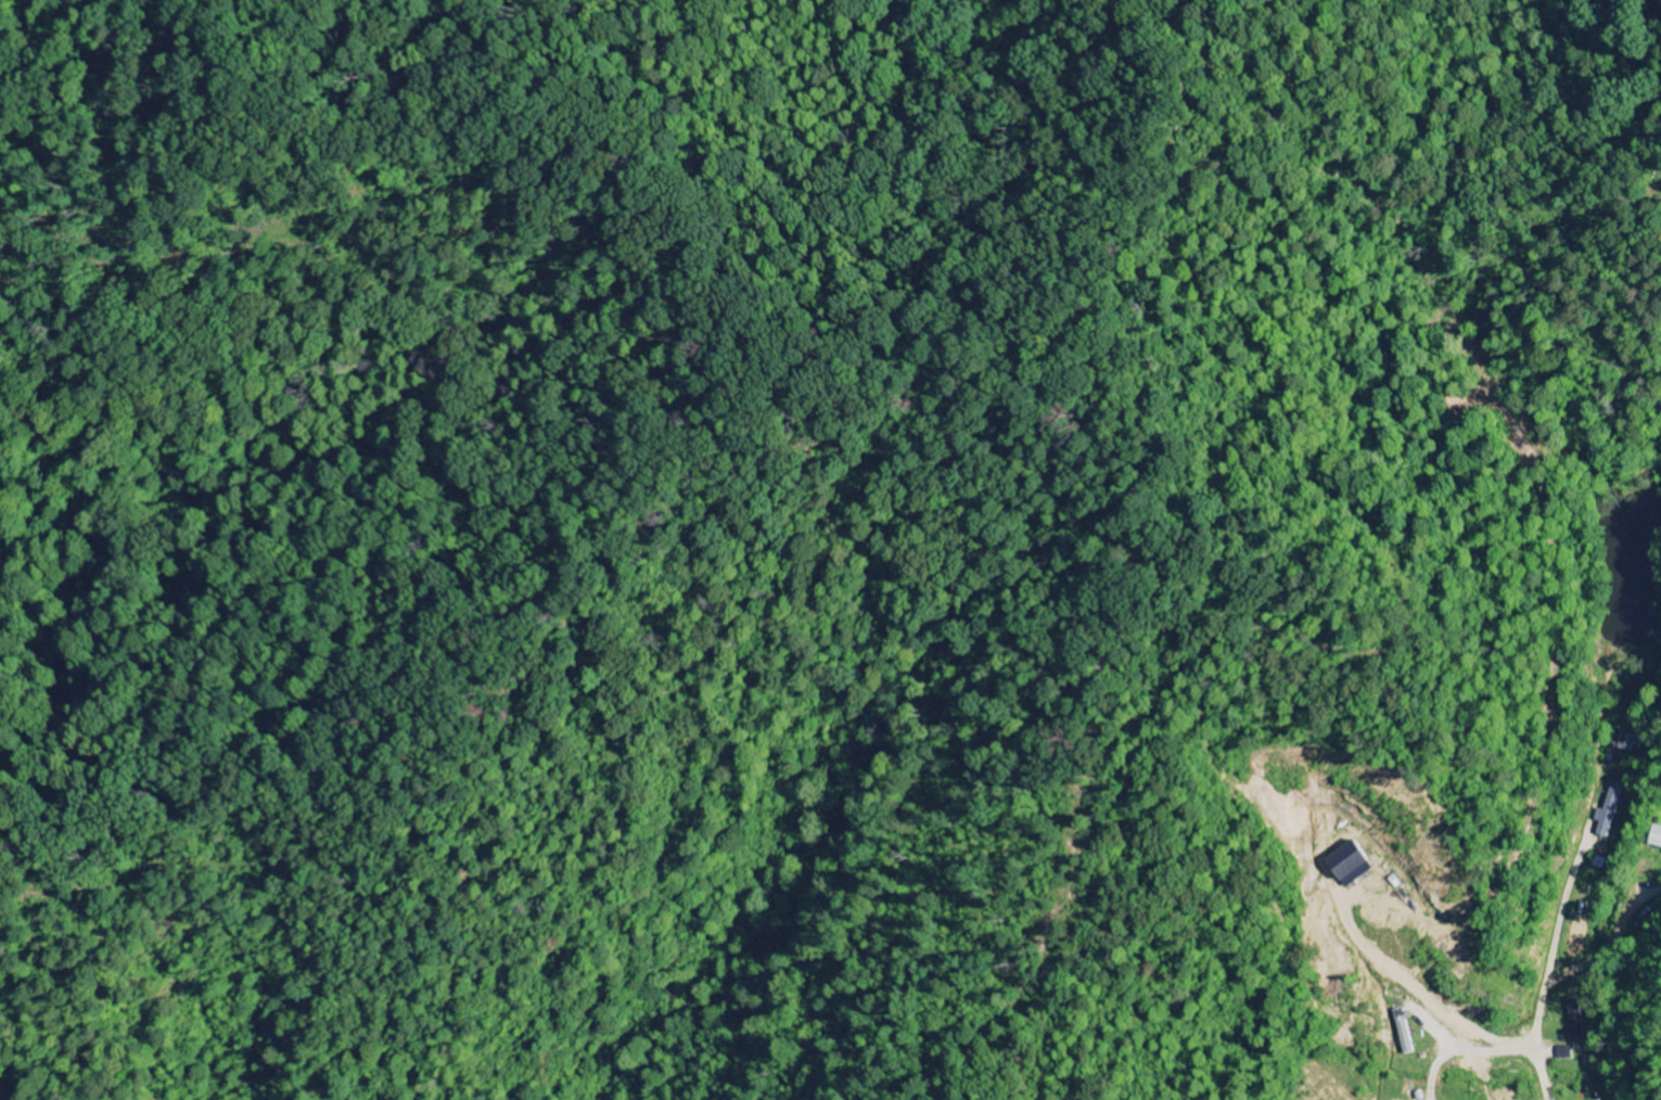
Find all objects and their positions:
building: (1605, 814)
building: (1656, 837)
building: (1344, 865)
building: (1402, 1032)
building: (1562, 1053)

